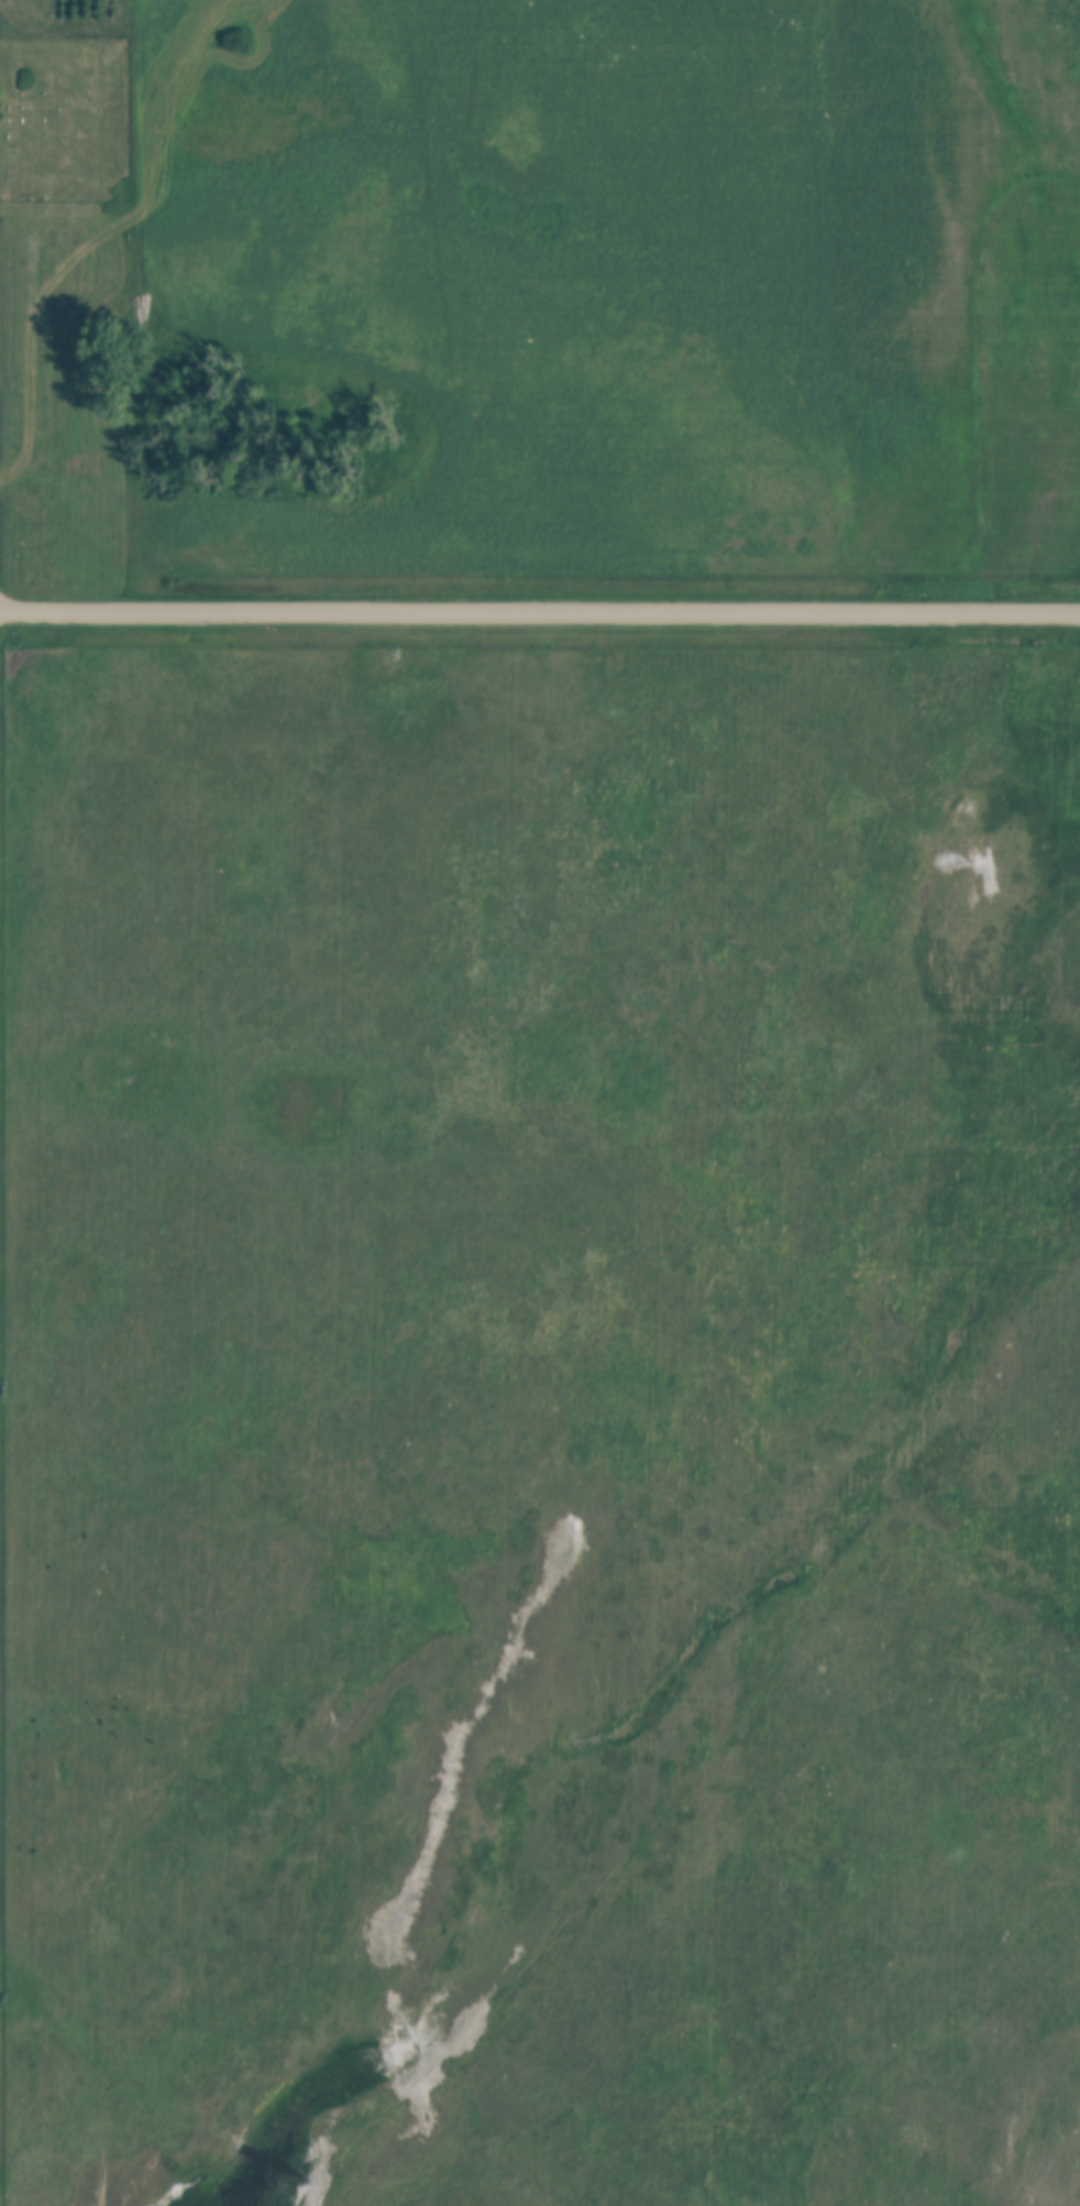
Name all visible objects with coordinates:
park: (64, 121)
road: (540, 612)

